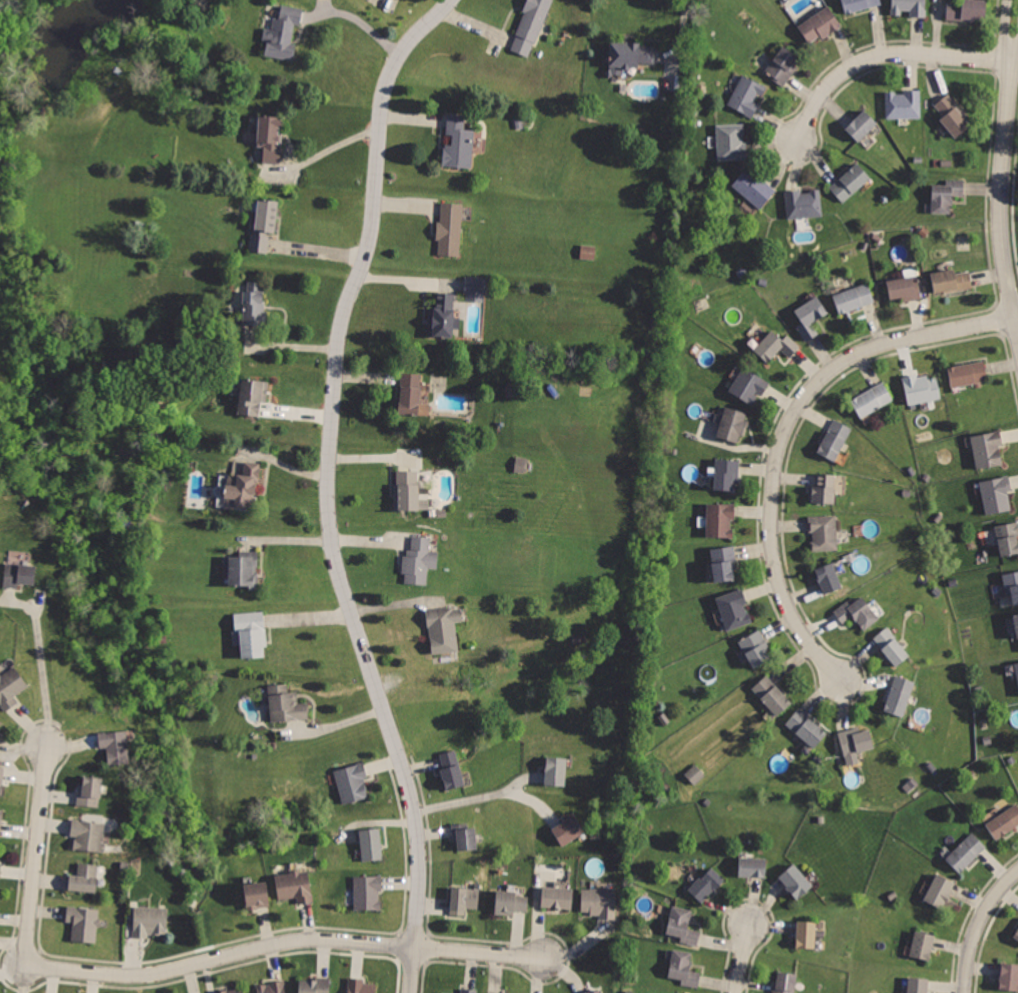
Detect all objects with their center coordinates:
building: (860, 4)
building: (911, 7)
building: (967, 9)
road: (361, 19)
building: (818, 24)
building: (532, 26)
road: (684, 32)
building: (282, 34)
road: (883, 54)
building: (629, 55)
road: (1014, 64)
building: (782, 67)
building: (745, 97)
building: (905, 104)
building: (953, 115)
building: (861, 127)
building: (272, 137)
building: (459, 141)
building: (732, 141)
road: (334, 146)
road: (1005, 156)
building: (850, 183)
building: (755, 189)
building: (946, 194)
building: (805, 203)
building: (263, 225)
building: (450, 230)
building: (587, 251)
road: (408, 278)
building: (952, 281)
building: (476, 287)
building: (908, 287)
building: (854, 297)
building: (253, 304)
building: (443, 316)
building: (809, 317)
building: (776, 345)
building: (968, 370)
building: (750, 384)
building: (921, 388)
building: (411, 394)
building: (251, 396)
building: (872, 398)
building: (732, 424)
road: (788, 430)
building: (836, 439)
building: (987, 448)
building: (520, 463)
building: (728, 473)
road: (327, 487)
building: (241, 490)
building: (826, 490)
building: (410, 492)
building: (996, 493)
building: (720, 519)
building: (823, 532)
building: (1008, 538)
building: (418, 561)
building: (723, 562)
building: (244, 570)
building: (19, 573)
building: (827, 578)
building: (1013, 585)
building: (732, 607)
building: (855, 611)
building: (1017, 614)
building: (442, 627)
building: (250, 632)
building: (892, 646)
building: (755, 647)
road: (40, 654)
building: (1017, 665)
building: (10, 685)
building: (771, 695)
building: (899, 696)
building: (285, 704)
building: (0, 720)
road: (333, 722)
building: (806, 729)
building: (855, 742)
building: (116, 746)
building: (450, 771)
building: (555, 772)
building: (694, 773)
building: (3, 780)
building: (352, 782)
building: (89, 791)
road: (469, 800)
building: (1, 820)
building: (1003, 824)
building: (569, 831)
building: (87, 835)
building: (465, 837)
building: (371, 844)
building: (967, 853)
building: (0, 867)
building: (753, 867)
building: (83, 879)
building: (796, 882)
building: (706, 885)
building: (295, 888)
building: (940, 892)
building: (369, 893)
building: (256, 896)
building: (557, 898)
building: (465, 899)
building: (510, 903)
building: (598, 903)
building: (150, 921)
building: (83, 924)
building: (683, 927)
road: (980, 927)
building: (806, 934)
building: (1016, 935)
building: (922, 946)
road: (747, 959)
building: (685, 969)
road: (175, 970)
building: (1008, 977)
building: (786, 982)
building: (316, 984)
building: (916, 985)
building: (360, 986)
building: (270, 987)
building: (233, 990)
building: (469, 990)
building: (595, 991)
building: (445, 992)

